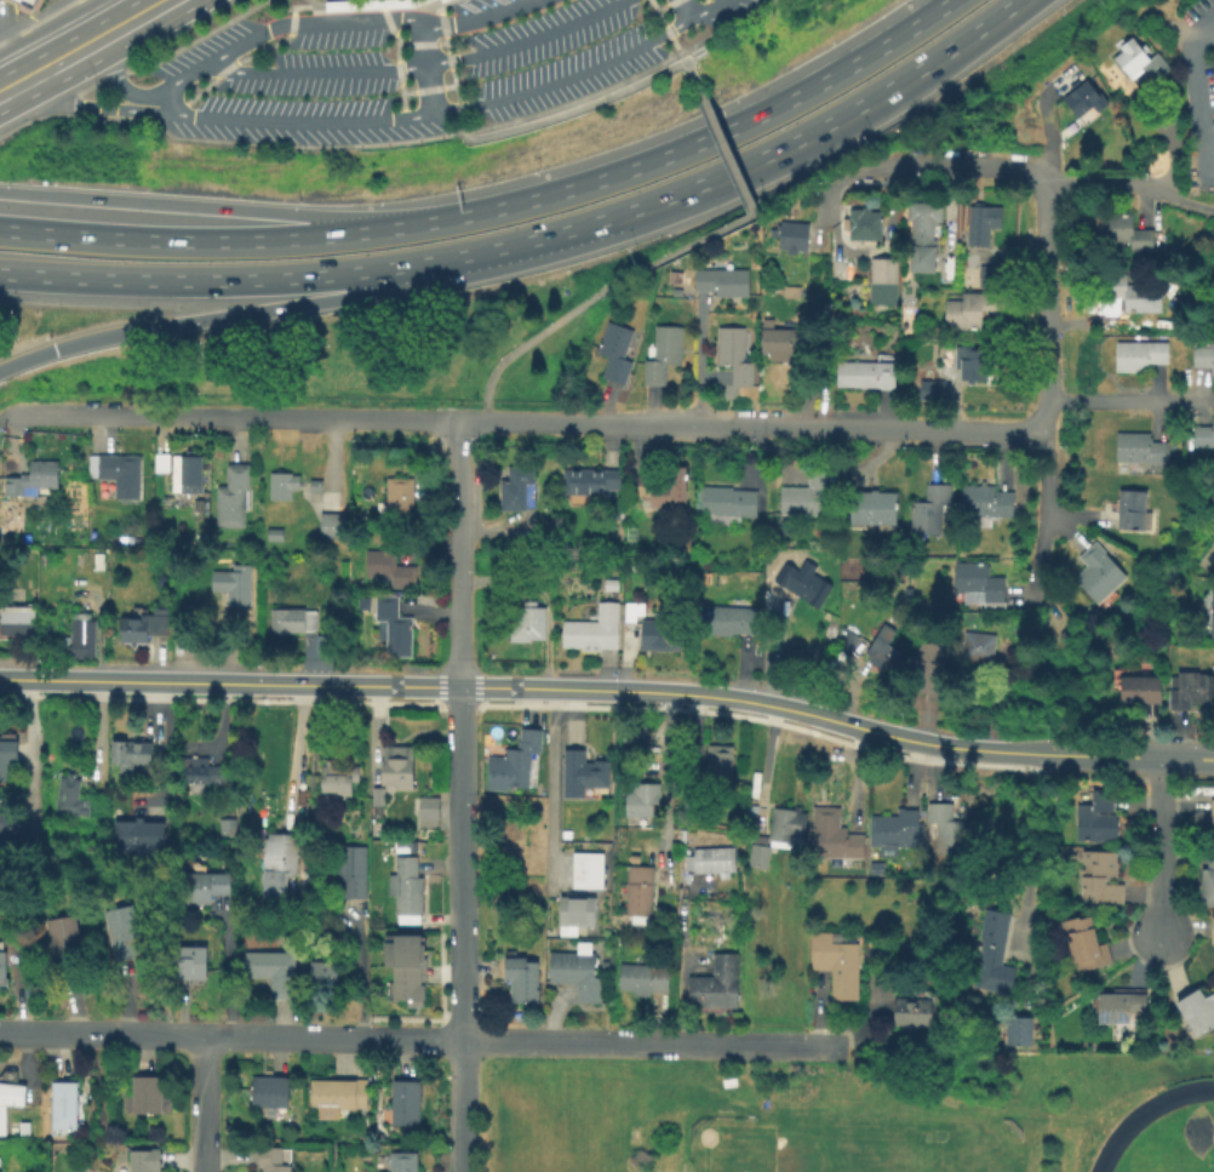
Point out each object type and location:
road: (370, 1)
building: (443, 1)
road: (441, 2)
road: (315, 4)
building: (365, 4)
building: (24, 5)
road: (164, 5)
road: (431, 5)
road: (682, 7)
road: (110, 15)
parking lot: (5, 18)
road: (291, 23)
road: (125, 27)
road: (664, 27)
road: (523, 39)
road: (178, 50)
road: (686, 50)
road: (705, 50)
road: (16, 52)
road: (74, 56)
road: (688, 62)
building: (1140, 62)
road: (423, 65)
road: (451, 65)
parking lot: (420, 69)
road: (317, 73)
road: (25, 82)
road: (1195, 95)
road: (164, 99)
building: (1086, 99)
road: (571, 113)
road: (371, 119)
road: (817, 125)
road: (720, 139)
road: (695, 141)
road: (1167, 142)
road: (1048, 178)
road: (210, 206)
building: (983, 225)
building: (866, 227)
building: (1124, 231)
building: (926, 236)
building: (794, 238)
road: (210, 239)
road: (302, 275)
building: (981, 275)
building: (992, 276)
building: (725, 282)
building: (884, 282)
building: (794, 293)
road: (596, 295)
building: (1136, 295)
road: (302, 305)
building: (974, 310)
building: (934, 333)
road: (1048, 335)
building: (784, 342)
building: (617, 354)
building: (665, 356)
building: (735, 356)
building: (1139, 356)
building: (1203, 356)
building: (973, 364)
building: (869, 373)
building: (933, 391)
road: (1130, 399)
road: (241, 419)
road: (473, 422)
road: (767, 428)
building: (1203, 438)
building: (1141, 448)
building: (162, 463)
building: (122, 475)
building: (188, 475)
building: (34, 481)
building: (590, 482)
building: (284, 486)
building: (317, 487)
building: (517, 490)
building: (665, 490)
building: (234, 497)
building: (806, 497)
building: (400, 502)
building: (731, 502)
building: (987, 502)
building: (200, 507)
building: (875, 509)
building: (930, 510)
building: (1133, 510)
building: (614, 514)
building: (333, 527)
building: (390, 571)
building: (1099, 573)
building: (804, 584)
building: (234, 585)
building: (612, 587)
building: (980, 587)
building: (17, 622)
building: (294, 622)
building: (733, 622)
building: (532, 623)
building: (1213, 624)
building: (394, 627)
building: (144, 630)
building: (594, 631)
building: (653, 631)
building: (82, 635)
building: (1067, 636)
building: (851, 641)
building: (883, 650)
building: (981, 650)
building: (933, 668)
road: (459, 674)
road: (527, 690)
building: (1143, 691)
building: (1190, 691)
building: (636, 742)
road: (28, 750)
building: (7, 756)
building: (131, 756)
road: (1132, 757)
building: (522, 760)
building: (720, 766)
building: (399, 768)
building: (202, 776)
building: (583, 776)
road: (668, 778)
building: (337, 782)
building: (685, 787)
road: (554, 788)
building: (71, 799)
building: (378, 799)
building: (642, 805)
building: (694, 805)
building: (428, 816)
building: (1098, 816)
building: (951, 828)
building: (1213, 828)
building: (7, 829)
building: (786, 829)
building: (898, 831)
building: (139, 836)
building: (834, 836)
building: (403, 845)
road: (1161, 847)
building: (761, 858)
building: (711, 861)
building: (280, 869)
building: (877, 870)
building: (588, 871)
building: (354, 874)
building: (1100, 880)
road: (1027, 882)
building: (1208, 882)
building: (202, 888)
building: (408, 891)
building: (641, 892)
building: (577, 911)
building: (1212, 930)
building: (124, 934)
building: (65, 943)
building: (622, 943)
building: (1086, 945)
building: (995, 955)
building: (191, 965)
building: (838, 966)
building: (4, 970)
building: (273, 972)
building: (578, 973)
building: (325, 977)
building: (645, 981)
building: (522, 982)
building: (407, 983)
road: (462, 983)
building: (717, 987)
building: (912, 1008)
building: (1122, 1010)
building: (1198, 1013)
building: (1019, 1033)
road: (182, 1037)
road: (414, 1041)
road: (648, 1045)
building: (378, 1077)
building: (271, 1093)
building: (339, 1097)
building: (10, 1098)
building: (150, 1098)
road: (207, 1105)
building: (405, 1105)
building: (64, 1107)
road: (463, 1107)
track: (1167, 1136)
park: (847, 1139)
building: (271, 1160)
building: (144, 1161)
building: (403, 1162)
park: (1170, 1167)

